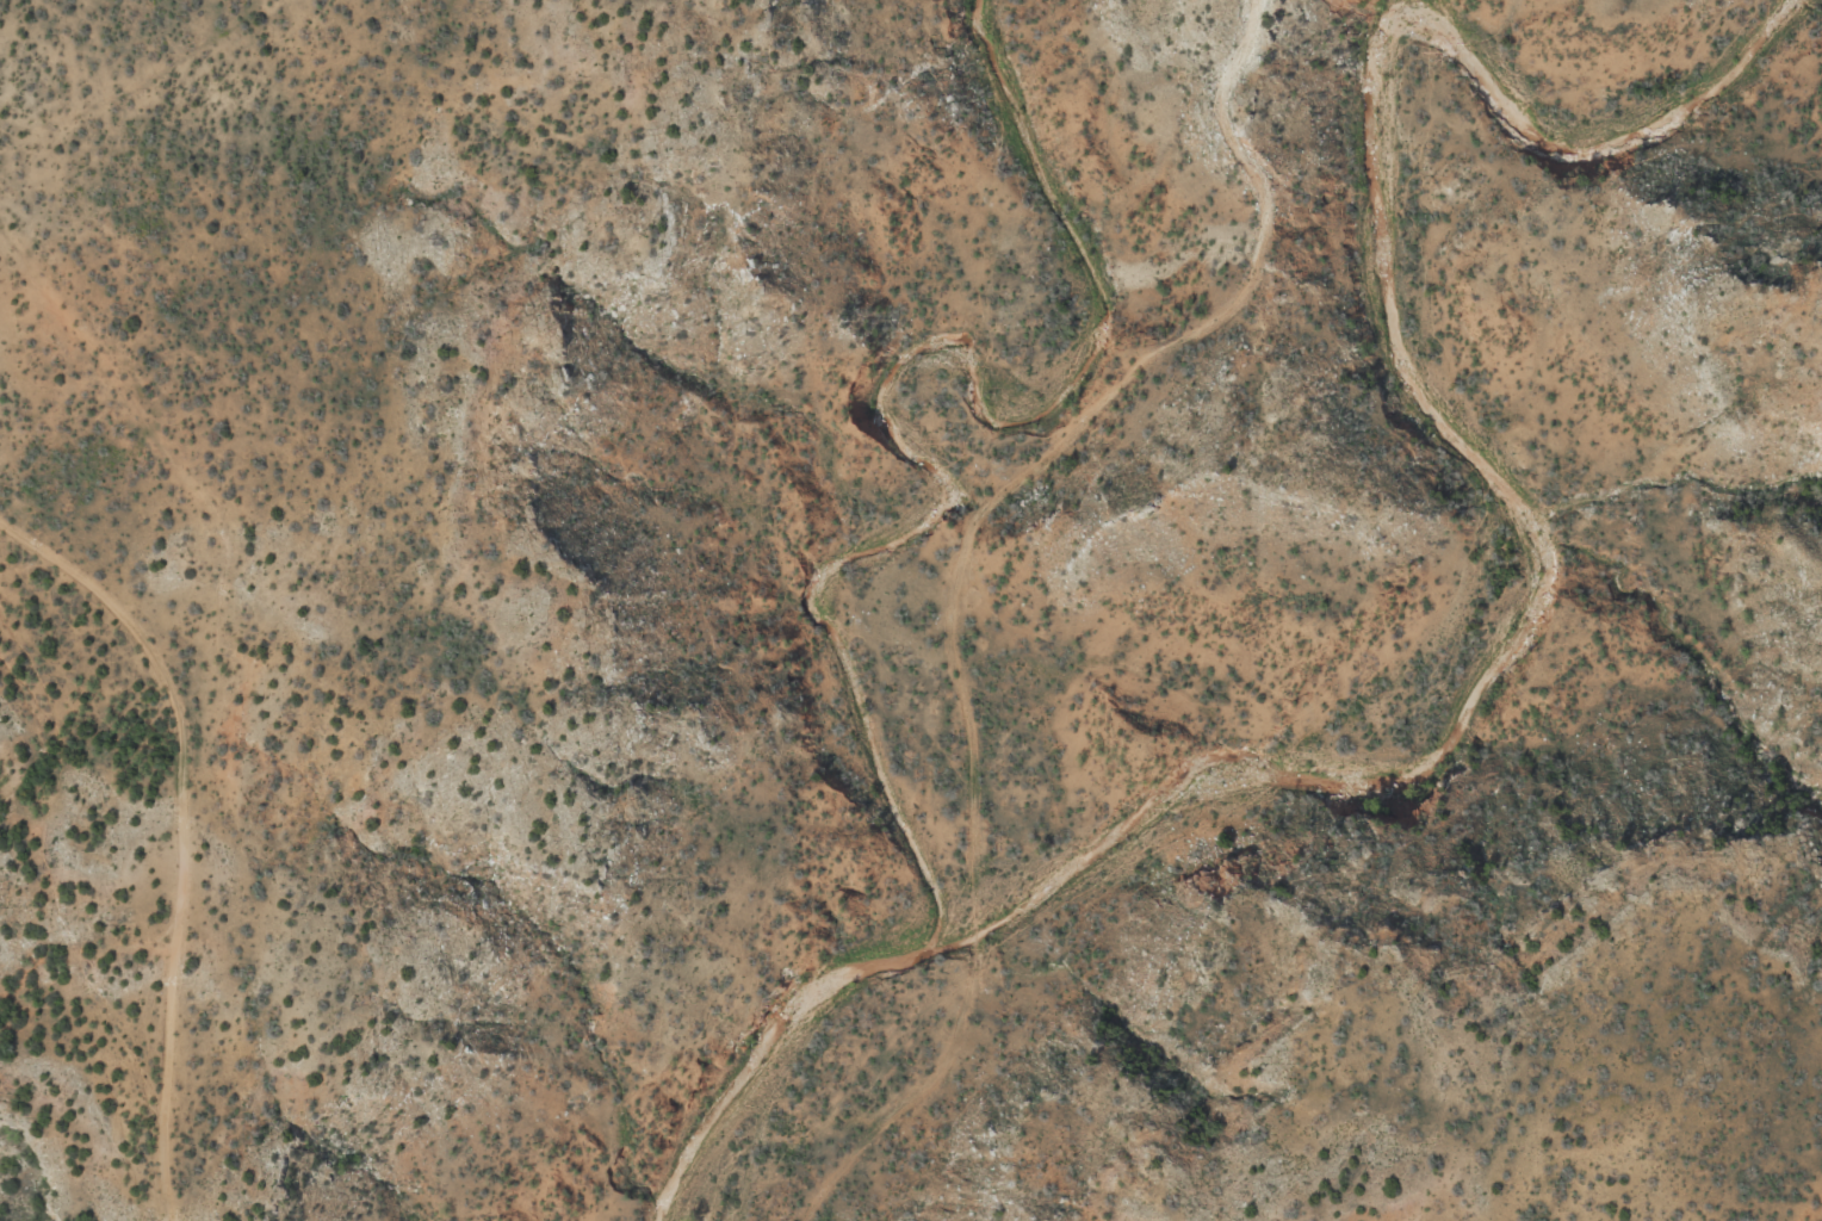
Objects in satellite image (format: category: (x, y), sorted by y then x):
road: (155, 959)

